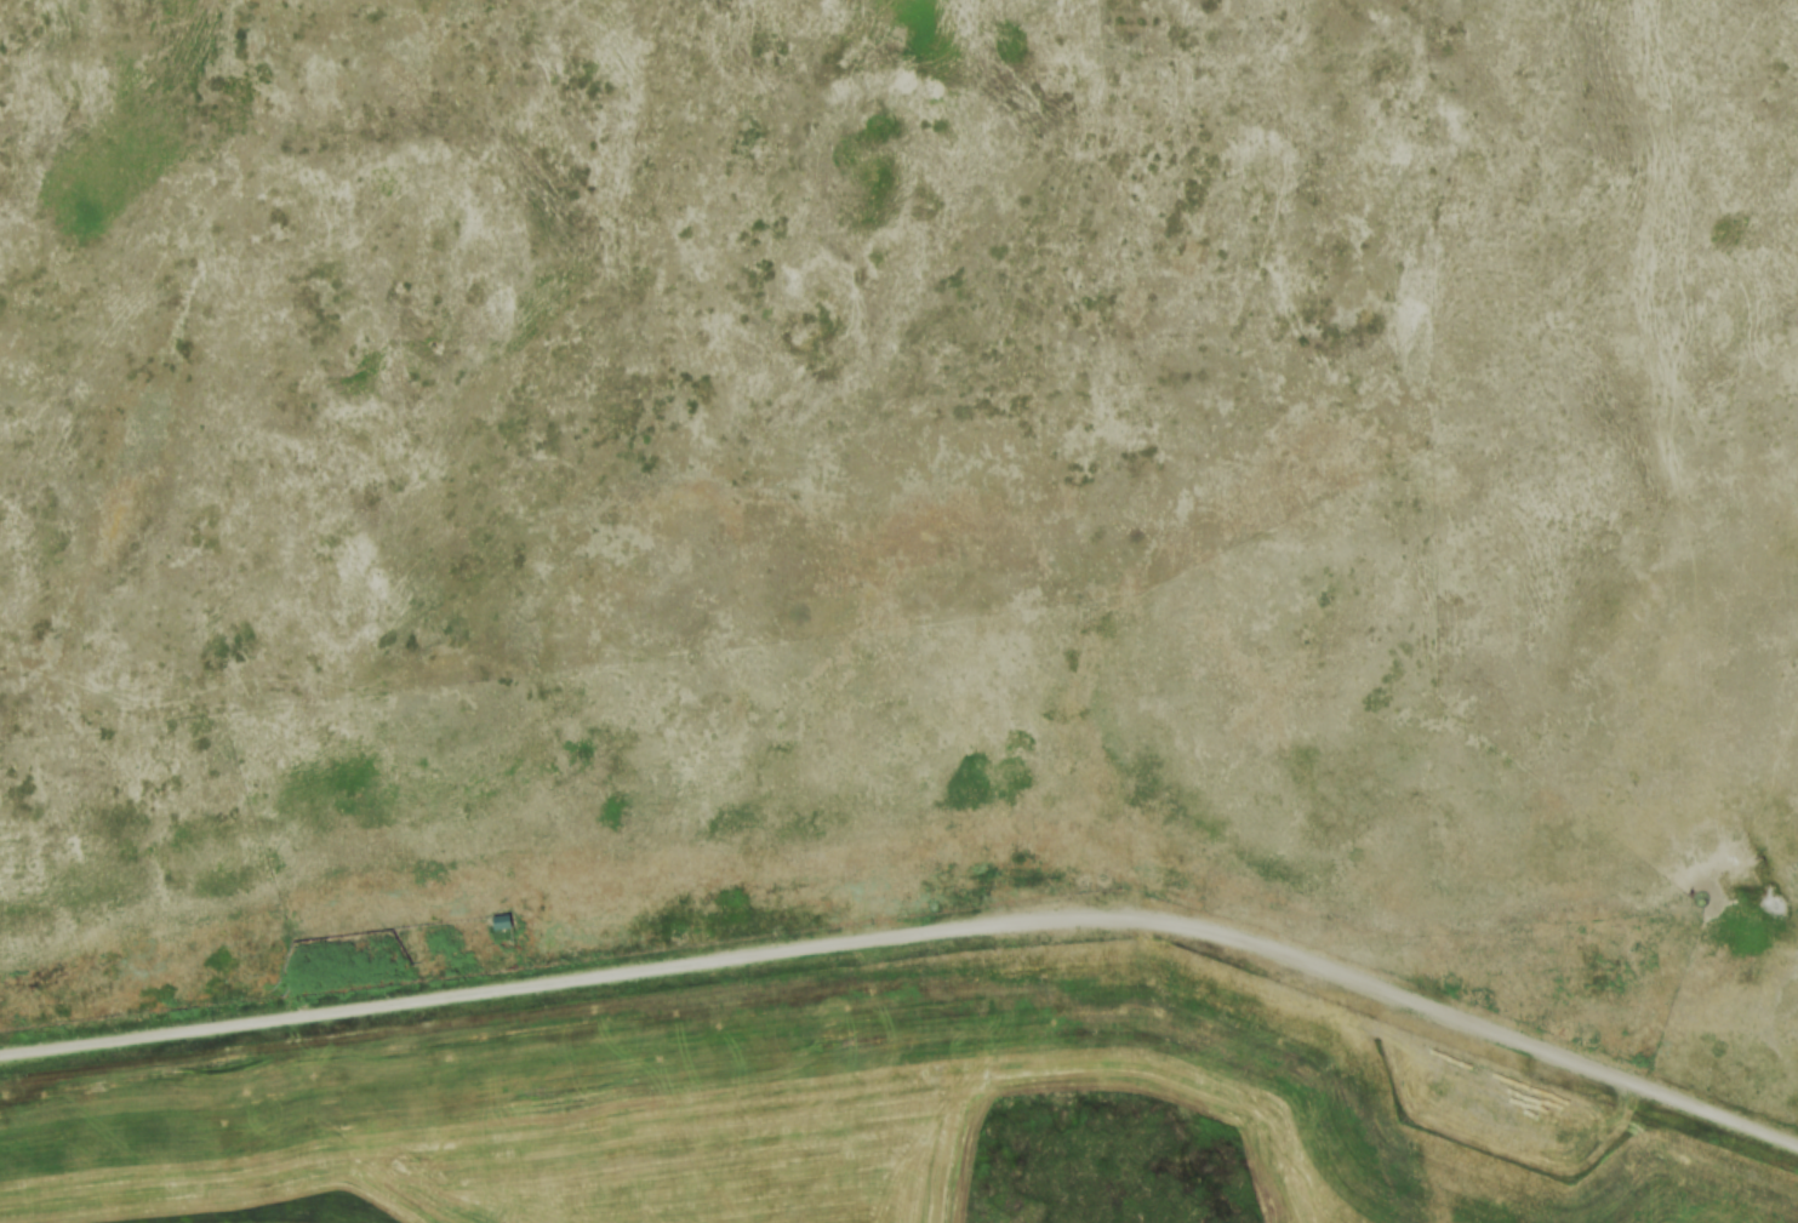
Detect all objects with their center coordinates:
road: (914, 941)

